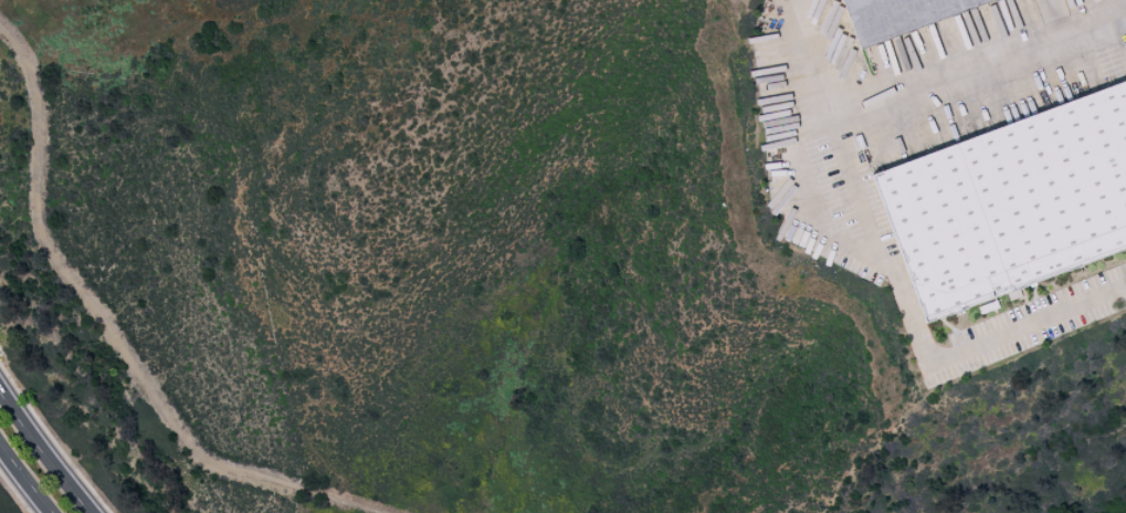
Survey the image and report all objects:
building: (901, 17)
road: (908, 100)
building: (1011, 203)
road: (109, 334)
road: (919, 349)
road: (44, 454)
road: (22, 484)

